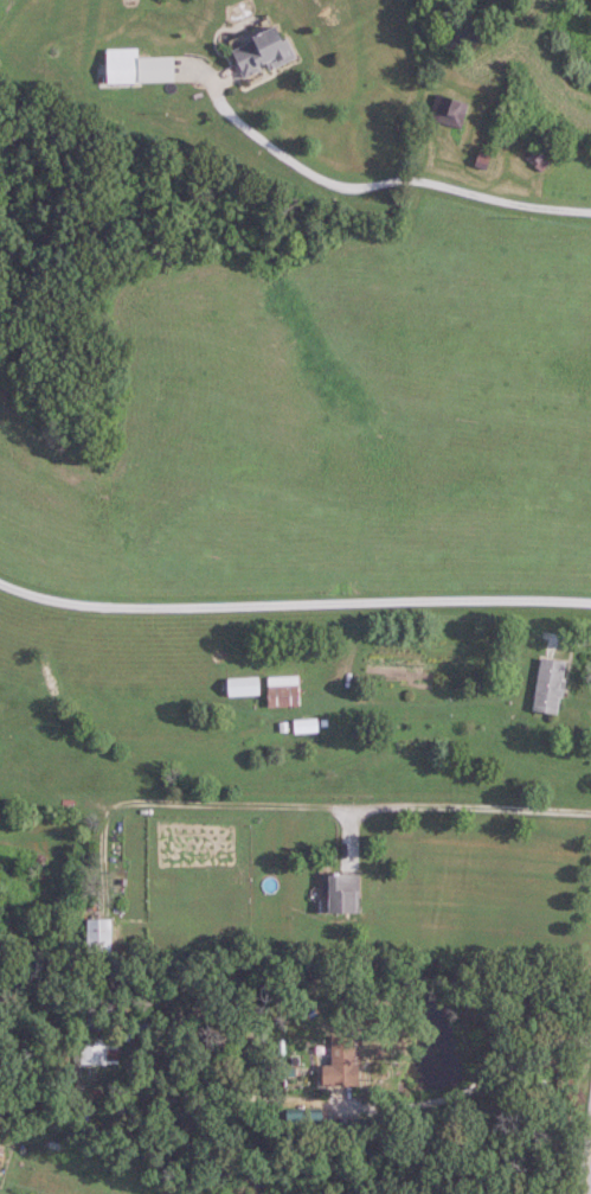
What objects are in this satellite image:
building: (264, 53)
building: (124, 66)
building: (449, 111)
building: (539, 159)
road: (370, 186)
road: (294, 605)
building: (551, 685)
building: (245, 687)
building: (284, 691)
building: (307, 727)
road: (356, 806)
road: (103, 850)
building: (346, 893)
building: (101, 941)
building: (101, 1019)
building: (101, 1051)
building: (345, 1061)
road: (481, 1080)
road: (587, 1171)

